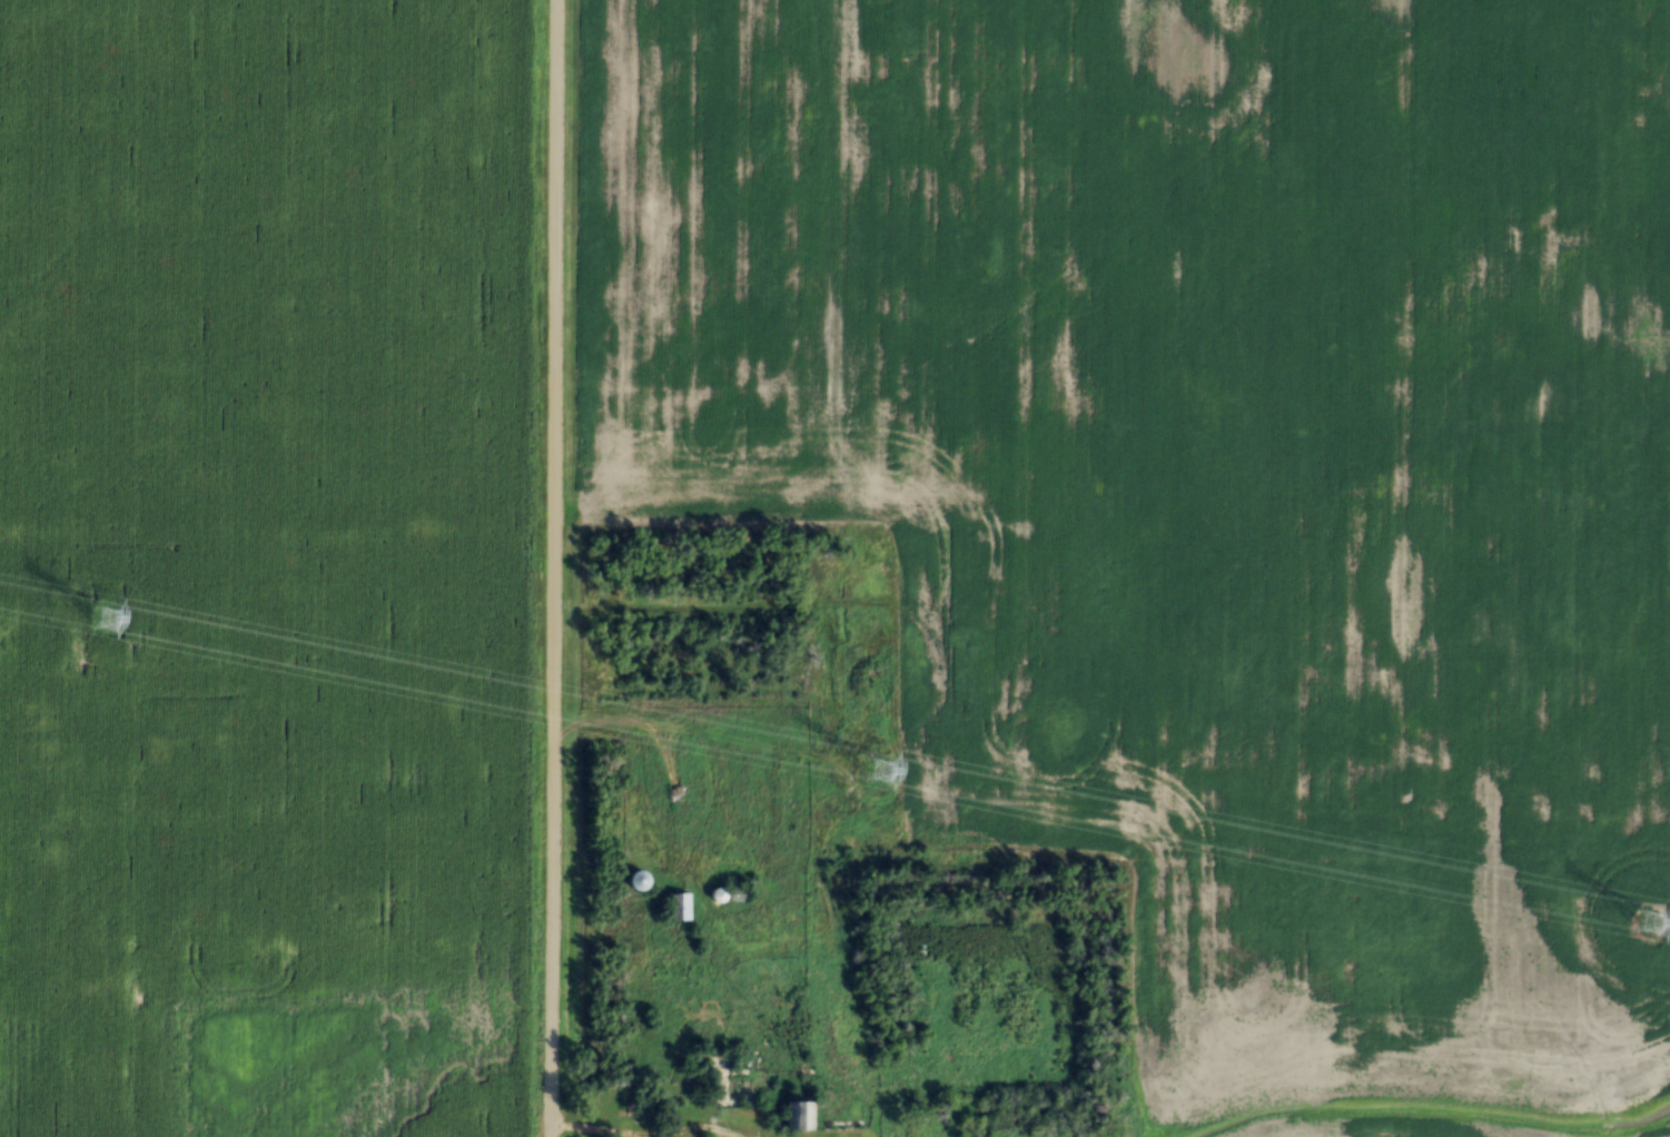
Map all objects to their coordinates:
road: (553, 568)
power tower: (109, 597)
road: (661, 607)
power tower: (886, 736)
road: (624, 775)
building: (636, 884)
power tower: (1651, 894)
building: (738, 896)
building: (676, 909)
road: (1430, 1110)
building: (796, 1116)
road: (635, 1133)

